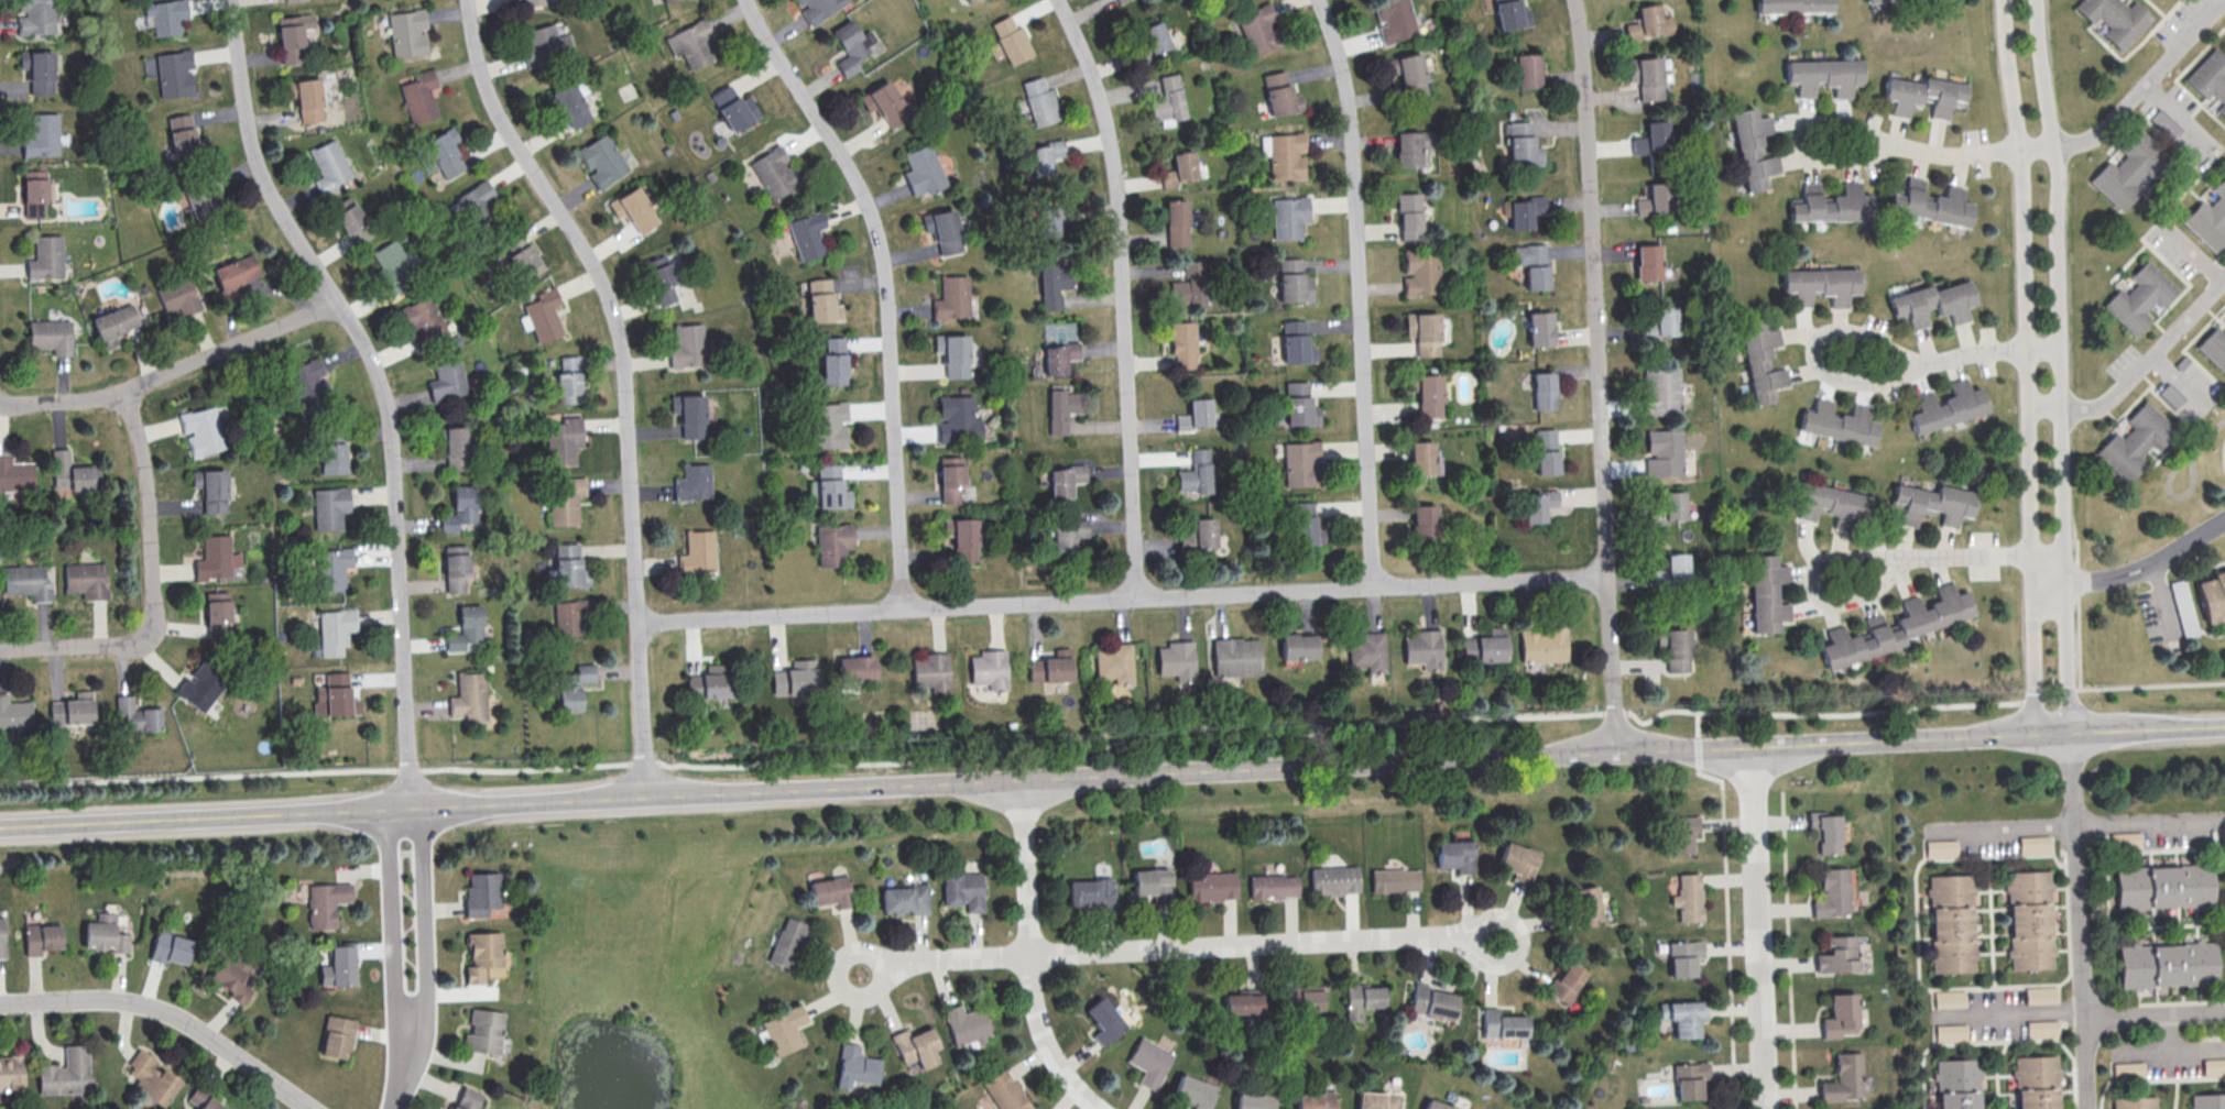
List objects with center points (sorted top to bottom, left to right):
building: (293, 0)
building: (666, 0)
building: (1120, 0)
building: (971, 1)
building: (533, 2)
building: (818, 8)
building: (37, 14)
building: (1512, 14)
building: (164, 15)
building: (1395, 19)
building: (2113, 20)
building: (1649, 22)
building: (1257, 30)
building: (408, 33)
building: (293, 36)
building: (1156, 36)
building: (1013, 40)
building: (689, 44)
building: (544, 46)
building: (852, 46)
building: (1407, 67)
building: (1528, 69)
building: (37, 70)
building: (174, 73)
building: (1824, 75)
building: (1648, 77)
building: (2208, 79)
building: (1902, 95)
building: (1279, 96)
building: (418, 97)
building: (1946, 97)
road: (2136, 97)
building: (308, 100)
building: (1168, 100)
building: (1040, 101)
building: (890, 102)
building: (567, 107)
building: (733, 109)
building: (41, 134)
building: (1657, 134)
building: (183, 135)
road: (1798, 136)
building: (1639, 144)
building: (1411, 146)
building: (1754, 147)
road: (1950, 151)
building: (441, 153)
building: (1044, 156)
building: (1283, 160)
building: (600, 162)
building: (329, 166)
building: (1179, 168)
building: (2128, 171)
building: (923, 172)
building: (773, 174)
building: (33, 191)
building: (199, 200)
building: (475, 204)
building: (1833, 204)
building: (634, 209)
building: (1525, 211)
building: (1409, 215)
building: (1051, 218)
building: (1287, 219)
building: (2210, 220)
building: (1175, 223)
building: (353, 224)
building: (944, 230)
building: (807, 235)
building: (523, 255)
building: (45, 256)
road: (2195, 256)
building: (1648, 262)
building: (1533, 264)
building: (393, 267)
building: (236, 271)
building: (1422, 272)
building: (662, 283)
building: (1291, 283)
building: (1055, 284)
building: (1839, 284)
road: (885, 285)
building: (1800, 285)
building: (1187, 286)
road: (1359, 290)
road: (1122, 293)
building: (178, 296)
building: (950, 299)
building: (2139, 299)
building: (822, 301)
building: (1933, 303)
building: (543, 316)
building: (425, 321)
building: (1661, 322)
building: (113, 323)
building: (1540, 328)
building: (1422, 333)
building: (51, 336)
building: (1182, 343)
building: (1296, 344)
building: (686, 347)
road: (1810, 348)
building: (2214, 349)
road: (1989, 350)
building: (952, 355)
building: (1059, 356)
building: (1762, 359)
building: (835, 361)
road: (2028, 367)
road: (2059, 367)
road: (173, 369)
road: (2139, 371)
road: (1599, 375)
road: (2175, 377)
building: (307, 378)
building: (568, 380)
road: (622, 380)
building: (448, 381)
road: (380, 386)
building: (1544, 389)
building: (1662, 389)
building: (1430, 395)
building: (1298, 406)
building: (1946, 406)
building: (1062, 408)
building: (688, 416)
building: (1193, 417)
building: (957, 421)
building: (1839, 422)
building: (826, 427)
building: (203, 430)
road: (2206, 436)
building: (563, 439)
building: (2136, 442)
building: (457, 447)
building: (1547, 451)
building: (1665, 452)
building: (334, 458)
building: (1424, 458)
building: (1298, 465)
building: (1196, 472)
building: (15, 473)
building: (70, 474)
building: (950, 479)
building: (1064, 480)
building: (691, 485)
building: (828, 487)
building: (211, 488)
road: (2172, 496)
building: (565, 499)
building: (1933, 503)
building: (1831, 504)
building: (1538, 505)
building: (331, 506)
building: (1670, 507)
building: (460, 509)
road: (150, 520)
building: (1424, 520)
building: (1302, 527)
building: (1204, 531)
building: (1068, 535)
building: (961, 540)
building: (831, 546)
building: (695, 553)
road: (1964, 557)
building: (217, 558)
building: (568, 566)
building: (456, 567)
building: (332, 568)
road: (2135, 569)
building: (1673, 570)
building: (87, 579)
road: (1810, 585)
building: (1767, 593)
road: (1121, 597)
building: (2213, 599)
road: (2164, 601)
building: (2183, 602)
building: (218, 614)
building: (569, 615)
building: (1897, 626)
building: (337, 629)
building: (467, 630)
building: (1544, 644)
road: (62, 645)
building: (1298, 646)
building: (1485, 648)
building: (1421, 650)
building: (1366, 654)
building: (1236, 656)
building: (1678, 658)
building: (1175, 661)
building: (1113, 665)
building: (1051, 667)
building: (854, 668)
building: (986, 671)
building: (929, 673)
building: (795, 678)
building: (709, 682)
building: (201, 685)
building: (575, 687)
building: (335, 695)
building: (469, 698)
building: (73, 710)
building: (14, 713)
building: (139, 715)
road: (1114, 740)
road: (1112, 773)
road: (2151, 825)
road: (2004, 828)
building: (1680, 832)
building: (1829, 833)
building: (2035, 844)
building: (1941, 847)
building: (1454, 858)
building: (1518, 860)
building: (1393, 881)
building: (1333, 882)
building: (1150, 886)
building: (1211, 887)
building: (963, 889)
building: (1272, 889)
building: (2162, 889)
building: (831, 891)
building: (1091, 891)
building: (482, 892)
building: (1831, 894)
building: (1688, 897)
building: (904, 899)
building: (326, 902)
road: (1726, 902)
building: (1584, 905)
building: (2028, 922)
road: (2079, 923)
building: (1949, 925)
road: (1758, 927)
road: (393, 929)
road: (427, 931)
building: (103, 936)
building: (1, 938)
building: (41, 938)
building: (787, 942)
road: (1248, 943)
building: (172, 947)
road: (1474, 948)
road: (1788, 949)
road: (1032, 953)
building: (1837, 954)
building: (484, 956)
road: (960, 956)
building: (1684, 956)
building: (340, 966)
building: (2166, 966)
park: (635, 974)
road: (837, 976)
building: (231, 979)
building: (1567, 981)
building: (2040, 995)
building: (1949, 998)
building: (1363, 999)
building: (1302, 1001)
building: (1435, 1001)
building: (1241, 1004)
road: (171, 1012)
road: (2155, 1012)
building: (1683, 1015)
building: (1839, 1015)
road: (2013, 1015)
building: (1105, 1020)
building: (1504, 1023)
building: (967, 1024)
building: (2041, 1028)
building: (785, 1029)
building: (484, 1030)
building: (1951, 1032)
building: (337, 1036)
building: (917, 1048)
road: (2182, 1050)
building: (1150, 1061)
building: (857, 1066)
building: (2214, 1066)
building: (2129, 1069)
building: (11, 1072)
building: (66, 1073)
building: (151, 1077)
building: (1690, 1078)
building: (1842, 1080)
road: (400, 1081)
building: (2035, 1083)
building: (1955, 1085)
building: (1006, 1091)
building: (1195, 1091)
building: (467, 1098)
building: (205, 1100)
building: (1378, 1100)
building: (1255, 1101)
building: (1315, 1101)
building: (2207, 1102)
building: (2133, 1103)
building: (1438, 1105)
park: (893, 1107)

